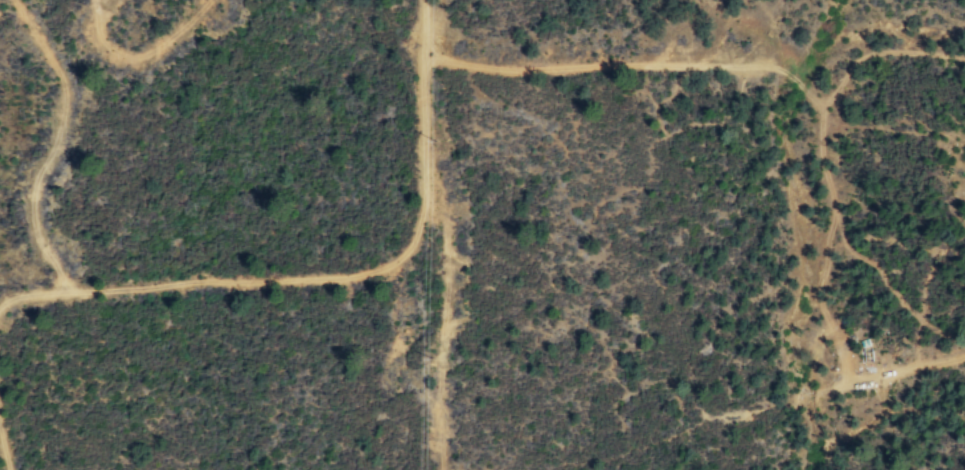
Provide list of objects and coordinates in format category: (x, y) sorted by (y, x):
road: (433, 52)
road: (142, 54)
road: (435, 61)
road: (643, 64)
road: (53, 144)
road: (365, 271)
road: (31, 294)
road: (442, 331)
road: (762, 407)
road: (4, 451)

